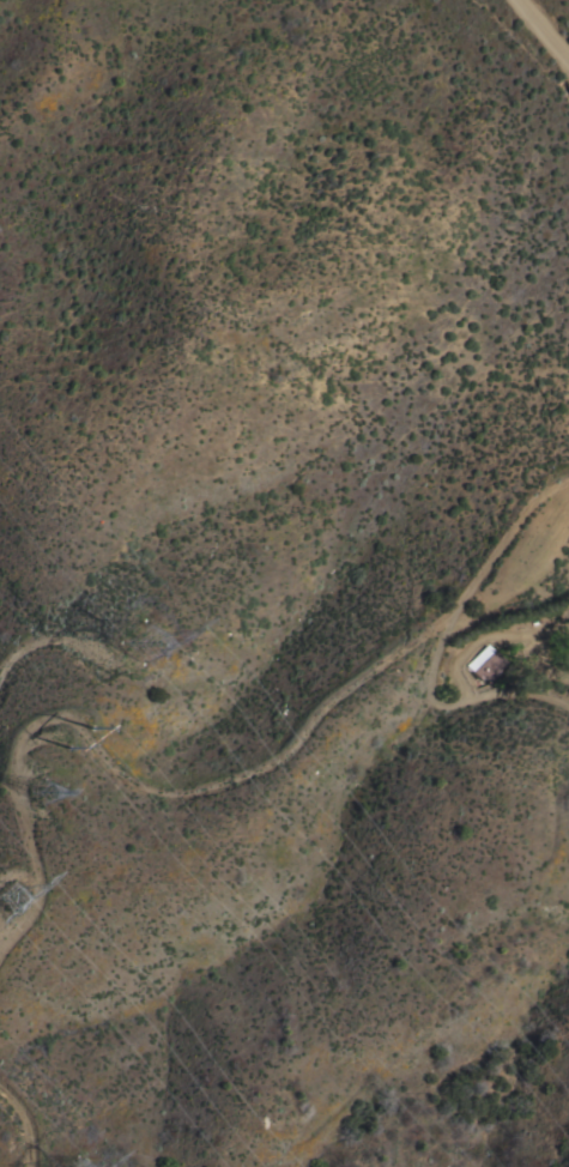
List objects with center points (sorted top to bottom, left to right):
road: (541, 34)
road: (438, 635)
power tower: (143, 641)
building: (485, 663)
power tower: (79, 731)
power tower: (42, 787)
power tower: (13, 895)
power tower: (85, 1165)

